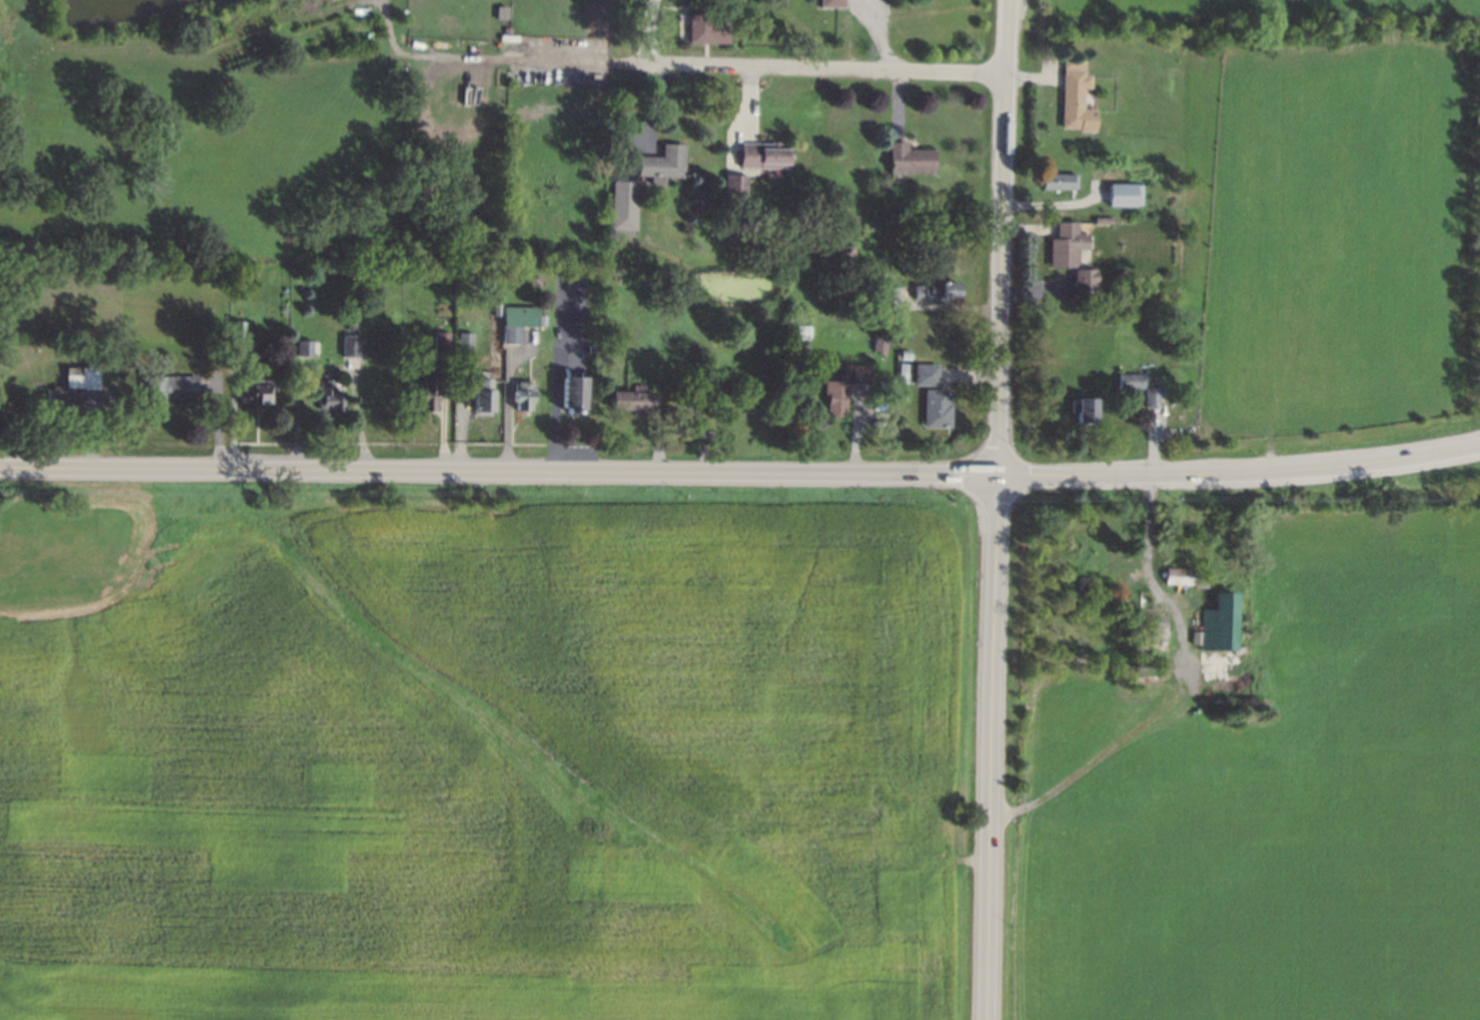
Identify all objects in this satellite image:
building: (830, 2)
road: (709, 3)
road: (697, 4)
building: (706, 27)
road: (648, 33)
road: (878, 35)
road: (705, 54)
road: (478, 56)
building: (1071, 62)
road: (808, 69)
road: (1032, 76)
building: (1074, 100)
road: (896, 105)
road: (650, 110)
road: (741, 120)
road: (748, 123)
road: (762, 137)
road: (908, 138)
road: (629, 150)
building: (763, 154)
building: (907, 157)
building: (662, 162)
building: (1057, 180)
building: (733, 191)
building: (1123, 193)
road: (1071, 195)
road: (1054, 202)
building: (621, 207)
building: (1102, 218)
road: (1027, 227)
building: (1065, 244)
building: (1083, 283)
road: (1035, 287)
building: (935, 290)
road: (961, 293)
building: (887, 297)
road: (948, 305)
building: (495, 308)
parking lot: (569, 311)
building: (540, 318)
building: (350, 320)
building: (516, 321)
building: (804, 333)
building: (235, 334)
building: (464, 340)
building: (879, 340)
building: (350, 344)
building: (304, 346)
building: (441, 346)
road: (526, 346)
building: (902, 353)
road: (300, 364)
road: (529, 364)
road: (327, 365)
road: (556, 365)
building: (902, 371)
building: (858, 372)
building: (924, 373)
road: (966, 375)
building: (80, 377)
building: (1131, 379)
road: (511, 380)
road: (876, 384)
building: (167, 387)
road: (895, 388)
building: (836, 389)
road: (948, 389)
building: (254, 392)
building: (571, 392)
building: (328, 393)
building: (479, 393)
building: (521, 394)
building: (901, 394)
building: (62, 395)
building: (691, 395)
building: (1151, 395)
building: (426, 396)
road: (269, 397)
building: (632, 399)
road: (507, 407)
building: (935, 407)
road: (1133, 407)
road: (1147, 407)
road: (232, 409)
road: (437, 410)
road: (459, 410)
building: (1085, 410)
road: (511, 414)
road: (563, 416)
road: (693, 416)
road: (443, 417)
road: (216, 418)
road: (256, 422)
road: (514, 422)
road: (327, 423)
road: (678, 425)
road: (89, 428)
road: (571, 428)
road: (856, 429)
road: (1152, 439)
road: (391, 441)
parking lot: (576, 449)
road: (740, 474)
road: (995, 509)
building: (1179, 576)
building: (1223, 623)
road: (1164, 685)

